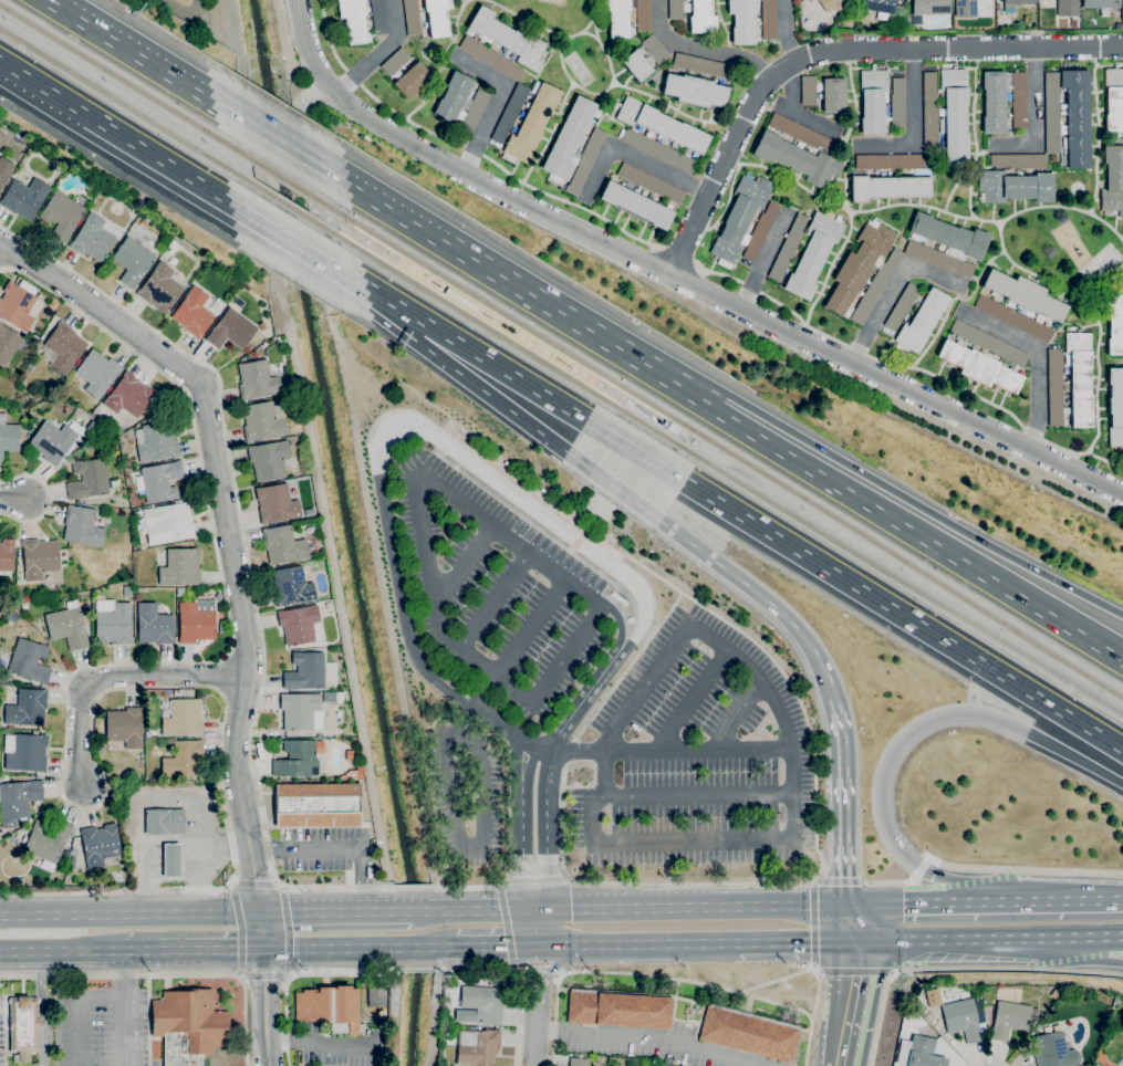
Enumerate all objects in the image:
building: (900, 0)
building: (1013, 3)
building: (1100, 3)
building: (831, 4)
building: (881, 8)
building: (1067, 8)
building: (927, 9)
building: (965, 9)
building: (675, 10)
building: (643, 15)
building: (378, 17)
building: (435, 17)
building: (618, 17)
building: (701, 17)
building: (412, 18)
building: (769, 19)
building: (354, 21)
building: (742, 21)
building: (1073, 23)
road: (596, 30)
road: (784, 30)
building: (496, 32)
road: (547, 32)
road: (327, 38)
road: (701, 48)
building: (655, 49)
road: (831, 50)
road: (377, 51)
building: (531, 54)
building: (490, 58)
road: (143, 61)
building: (395, 61)
road: (439, 63)
building: (636, 65)
building: (700, 65)
park: (579, 69)
road: (353, 77)
building: (412, 79)
railway: (124, 80)
road: (332, 82)
road: (43, 88)
building: (808, 90)
building: (695, 91)
road: (600, 93)
building: (833, 95)
building: (456, 98)
building: (1114, 98)
building: (1019, 100)
building: (873, 101)
building: (995, 101)
building: (897, 102)
road: (495, 105)
railway: (126, 106)
road: (675, 108)
building: (475, 111)
road: (797, 111)
building: (929, 111)
building: (510, 113)
building: (1052, 113)
building: (954, 117)
building: (1075, 117)
road: (1036, 118)
building: (530, 124)
road: (913, 125)
building: (662, 127)
road: (849, 129)
road: (1099, 130)
building: (800, 132)
road: (551, 134)
road: (974, 135)
building: (569, 139)
road: (280, 146)
road: (301, 147)
building: (657, 150)
road: (633, 156)
building: (797, 158)
building: (585, 160)
building: (1019, 160)
building: (890, 161)
road: (174, 168)
building: (4, 170)
road: (507, 173)
building: (1113, 178)
railway: (285, 180)
building: (651, 184)
building: (890, 185)
building: (1013, 186)
building: (24, 197)
building: (636, 202)
road: (926, 206)
railway: (290, 207)
road: (379, 208)
road: (843, 209)
building: (62, 216)
building: (739, 219)
building: (144, 222)
building: (760, 231)
railway: (346, 237)
building: (949, 237)
building: (93, 239)
road: (1001, 239)
road: (297, 243)
building: (787, 249)
building: (813, 254)
road: (679, 255)
road: (765, 261)
building: (132, 262)
park: (1101, 264)
road: (474, 265)
building: (859, 268)
road: (677, 280)
road: (364, 284)
road: (893, 286)
building: (159, 289)
road: (963, 292)
building: (1026, 295)
building: (869, 297)
road: (953, 299)
building: (18, 306)
building: (902, 306)
building: (193, 313)
railway: (472, 318)
building: (1013, 318)
road: (406, 322)
building: (921, 322)
building: (1114, 322)
building: (231, 331)
building: (989, 342)
building: (8, 344)
building: (63, 348)
road: (1037, 357)
road: (495, 364)
building: (31, 365)
building: (979, 366)
road: (909, 367)
road: (1099, 372)
building: (97, 373)
building: (1079, 376)
building: (257, 380)
building: (1054, 386)
building: (290, 389)
road: (623, 393)
road: (622, 396)
building: (128, 397)
road: (620, 398)
road: (496, 400)
building: (1115, 407)
road: (661, 416)
road: (653, 420)
building: (262, 421)
road: (664, 424)
road: (420, 425)
railway: (648, 427)
building: (8, 437)
building: (156, 439)
building: (52, 441)
road: (447, 443)
road: (814, 446)
railway: (724, 448)
road: (634, 450)
road: (788, 457)
building: (268, 460)
building: (127, 462)
building: (508, 464)
road: (626, 470)
road: (408, 472)
building: (89, 479)
building: (162, 481)
road: (612, 487)
building: (544, 491)
road: (14, 498)
road: (48, 499)
road: (506, 503)
building: (275, 504)
building: (309, 512)
road: (566, 513)
building: (167, 523)
road: (225, 525)
building: (82, 526)
road: (586, 532)
road: (578, 543)
building: (283, 544)
building: (7, 553)
road: (247, 556)
building: (322, 556)
building: (39, 558)
road: (564, 562)
building: (180, 567)
road: (464, 568)
railway: (901, 578)
building: (291, 586)
building: (126, 591)
building: (180, 592)
road: (756, 593)
parking lot: (499, 594)
building: (137, 597)
road: (496, 602)
building: (327, 606)
road: (898, 613)
building: (13, 616)
building: (197, 620)
building: (113, 623)
road: (697, 623)
building: (298, 624)
building: (154, 625)
building: (67, 626)
building: (221, 628)
road: (621, 629)
road: (1096, 635)
road: (524, 645)
road: (1096, 645)
building: (29, 660)
building: (305, 671)
road: (557, 671)
road: (113, 679)
building: (186, 693)
building: (332, 697)
road: (689, 698)
road: (580, 703)
building: (27, 708)
building: (301, 711)
road: (734, 711)
building: (340, 717)
building: (183, 718)
building: (124, 727)
road: (914, 728)
road: (512, 732)
building: (24, 752)
road: (570, 752)
road: (669, 752)
parking lot: (698, 756)
building: (183, 760)
building: (297, 760)
road: (513, 762)
road: (64, 763)
road: (529, 764)
building: (358, 772)
road: (699, 794)
road: (843, 799)
building: (18, 801)
road: (815, 801)
building: (318, 804)
building: (164, 822)
road: (544, 828)
road: (694, 839)
building: (46, 840)
building: (102, 847)
road: (336, 847)
road: (521, 849)
building: (171, 860)
gas station: (171, 860)
building: (72, 861)
road: (922, 868)
road: (1022, 869)
road: (535, 879)
road: (817, 879)
road: (842, 881)
road: (890, 881)
road: (254, 885)
road: (469, 887)
road: (414, 888)
road: (1049, 900)
road: (909, 902)
traffic signals: (844, 903)
road: (777, 905)
road: (627, 908)
road: (478, 910)
traffic signals: (522, 910)
road: (533, 910)
traffic signals: (545, 910)
road: (327, 911)
road: (403, 911)
road: (417, 911)
road: (430, 911)
traffic signals: (259, 912)
road: (129, 913)
road: (851, 921)
road: (812, 922)
road: (506, 927)
road: (529, 928)
road: (540, 928)
road: (241, 929)
road: (288, 930)
road: (1096, 937)
road: (964, 939)
traffic signals: (857, 940)
road: (796, 941)
road: (635, 944)
road: (524, 945)
traffic signals: (535, 945)
road: (420, 947)
road: (448, 947)
road: (485, 947)
road: (331, 948)
road: (193, 949)
traffic signals: (261, 949)
road: (48, 951)
road: (111, 951)
road: (1094, 953)
road: (812, 965)
road: (958, 968)
road: (538, 969)
road: (416, 970)
road: (522, 970)
road: (548, 971)
road: (549, 971)
road: (819, 971)
road: (855, 971)
road: (891, 972)
road: (165, 973)
road: (297, 973)
road: (528, 973)
road: (555, 974)
road: (263, 976)
road: (518, 978)
building: (492, 981)
road: (692, 981)
road: (266, 989)
building: (1056, 994)
building: (376, 996)
building: (932, 996)
road: (776, 1002)
road: (851, 1003)
building: (480, 1005)
road: (74, 1006)
road: (396, 1006)
road: (43, 1007)
building: (330, 1007)
road: (126, 1008)
building: (618, 1008)
building: (964, 1018)
building: (1010, 1018)
building: (188, 1025)
building: (23, 1026)
parking lot: (97, 1028)
road: (535, 1034)
building: (750, 1035)
road: (649, 1039)
road: (322, 1043)
building: (477, 1047)
building: (1052, 1051)
building: (918, 1053)
road: (988, 1058)
building: (578, 1062)

